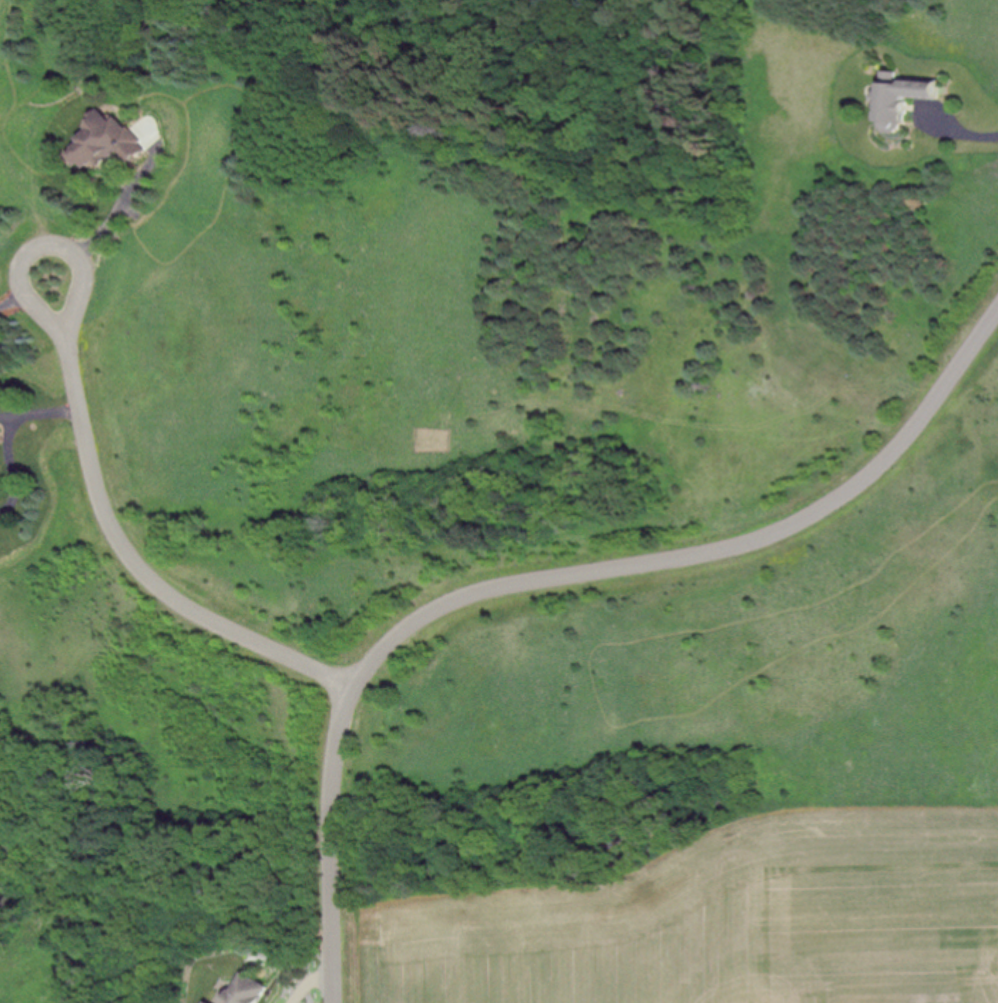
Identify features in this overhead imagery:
building: (892, 111)
road: (963, 129)
building: (115, 143)
road: (120, 204)
road: (24, 288)
road: (14, 301)
road: (45, 412)
road: (5, 416)
road: (11, 467)
road: (141, 564)
road: (545, 577)
road: (312, 980)
building: (248, 990)
building: (209, 1002)

